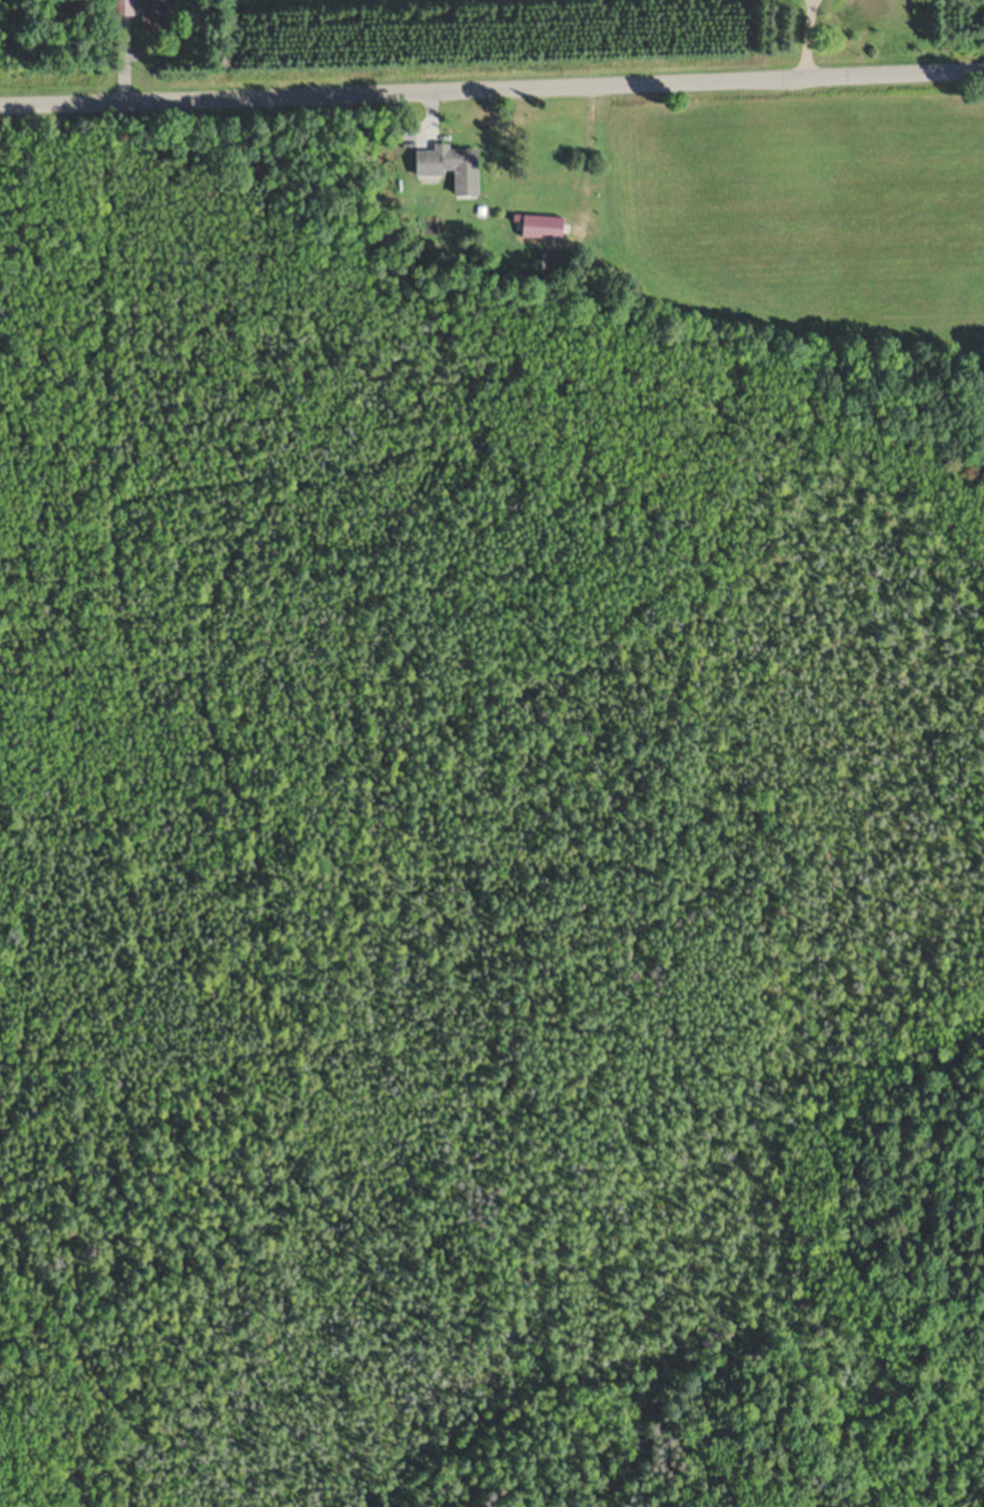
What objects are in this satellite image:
building: (872, 8)
building: (154, 16)
road: (492, 97)
building: (451, 168)
building: (542, 228)

